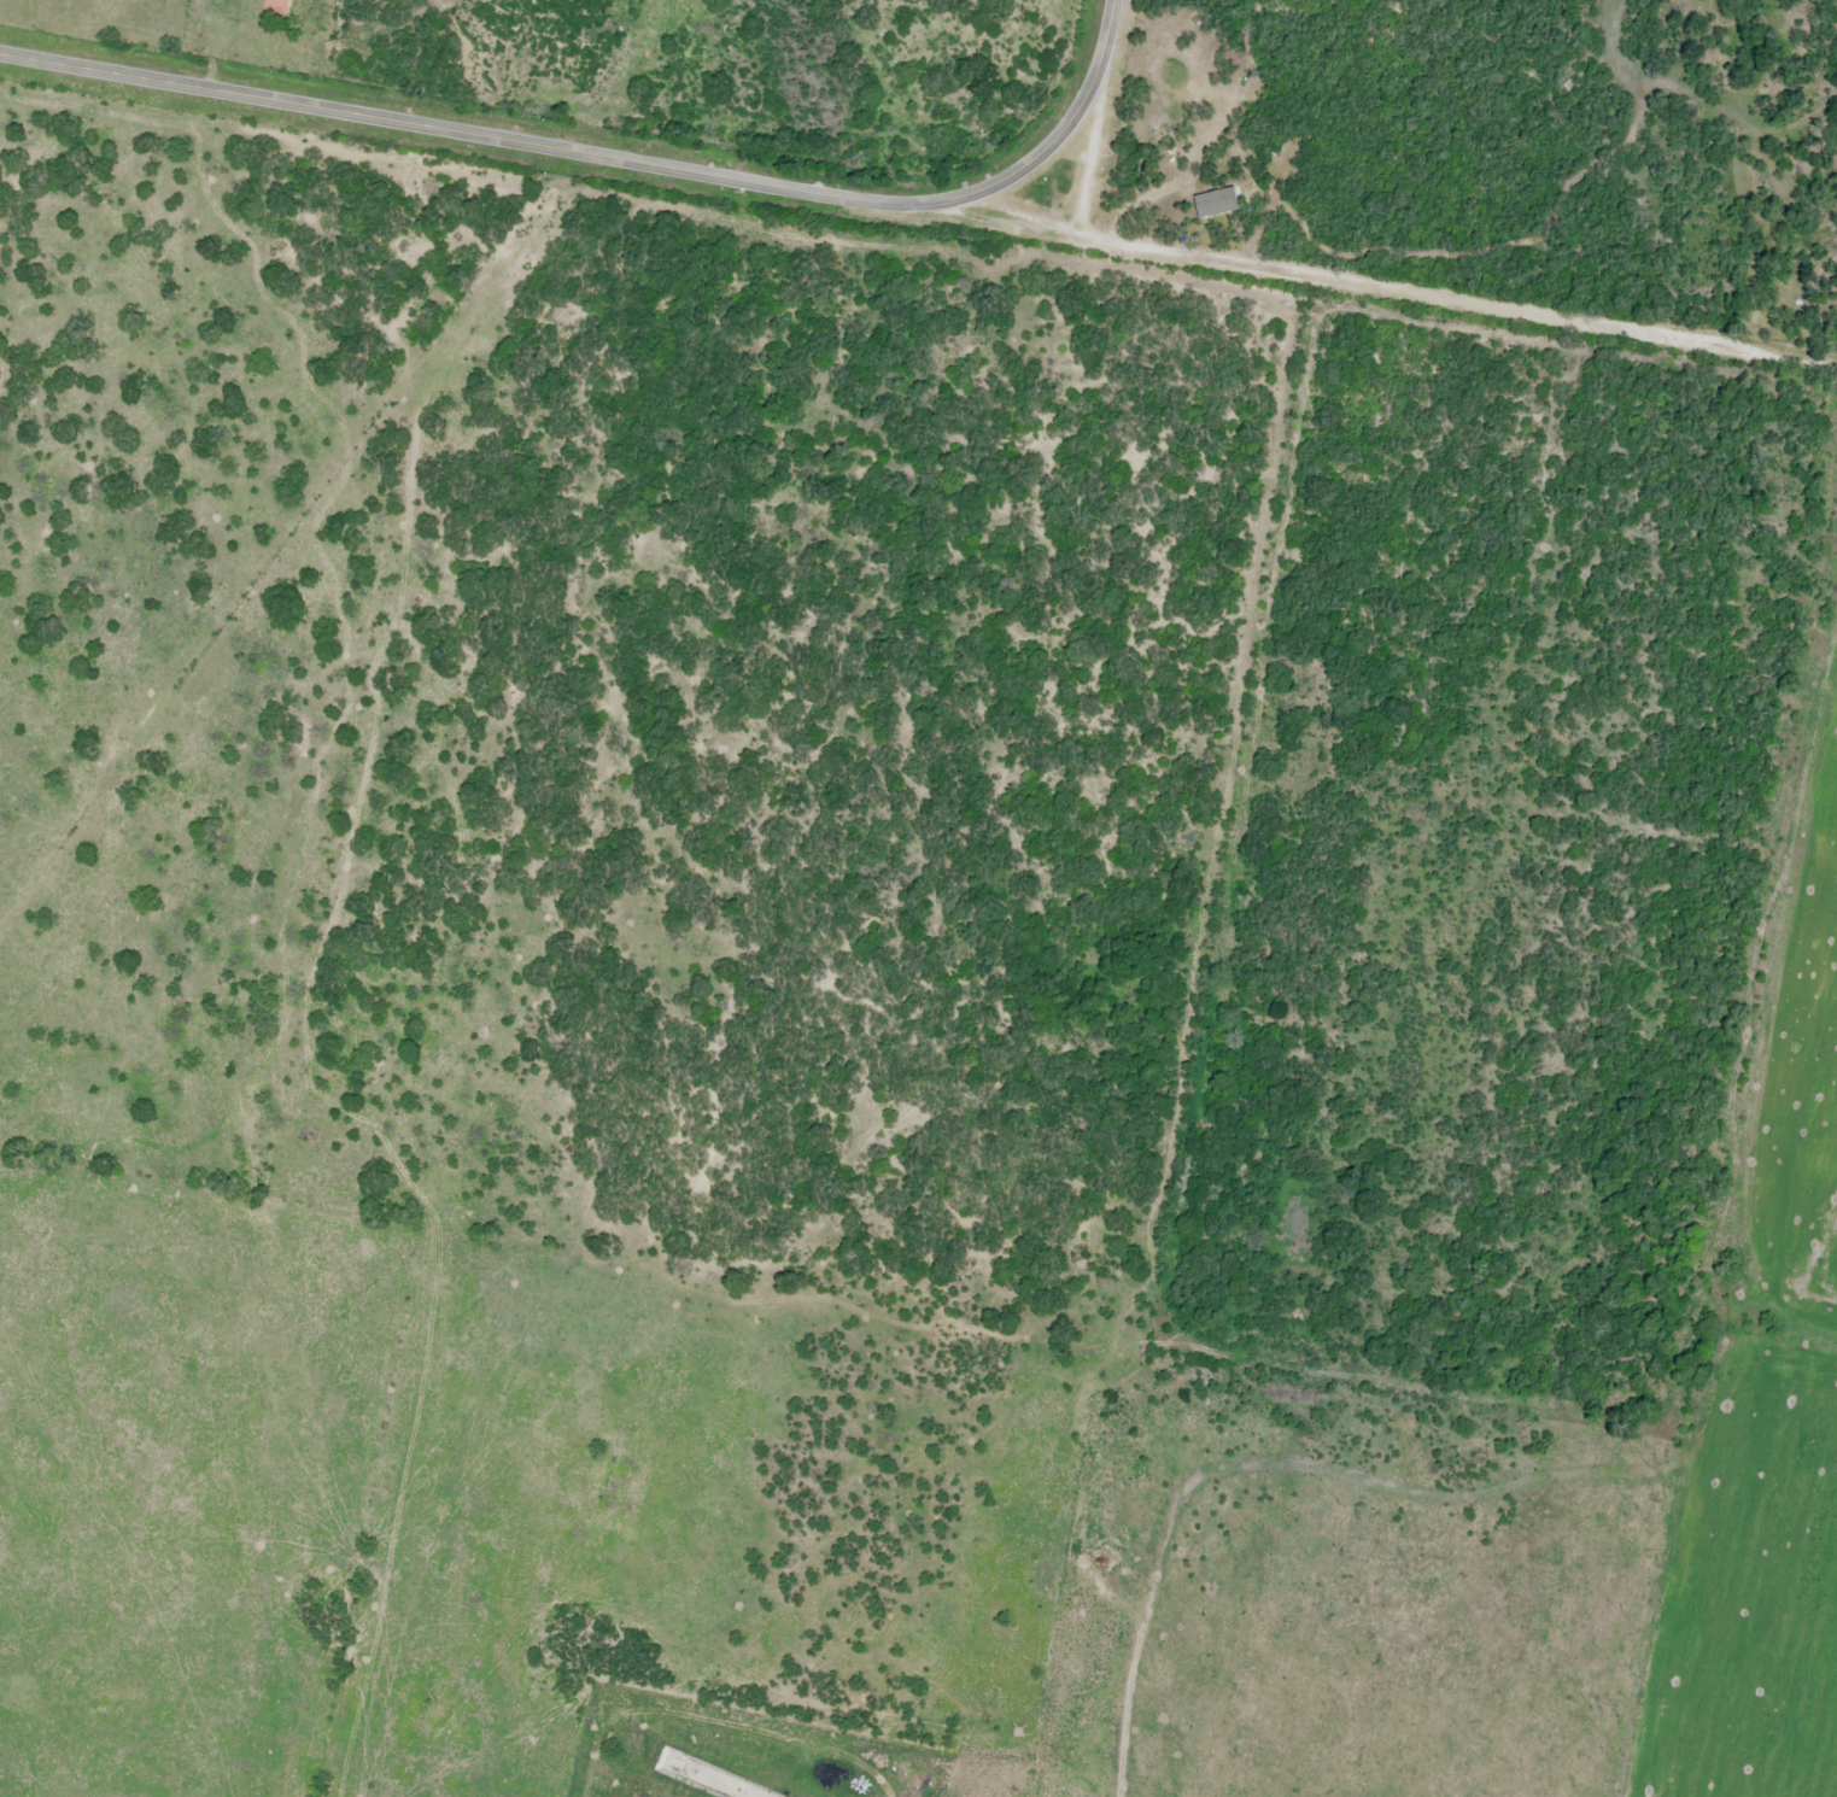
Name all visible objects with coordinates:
building: (279, 6)
road: (610, 157)
road: (1375, 288)

